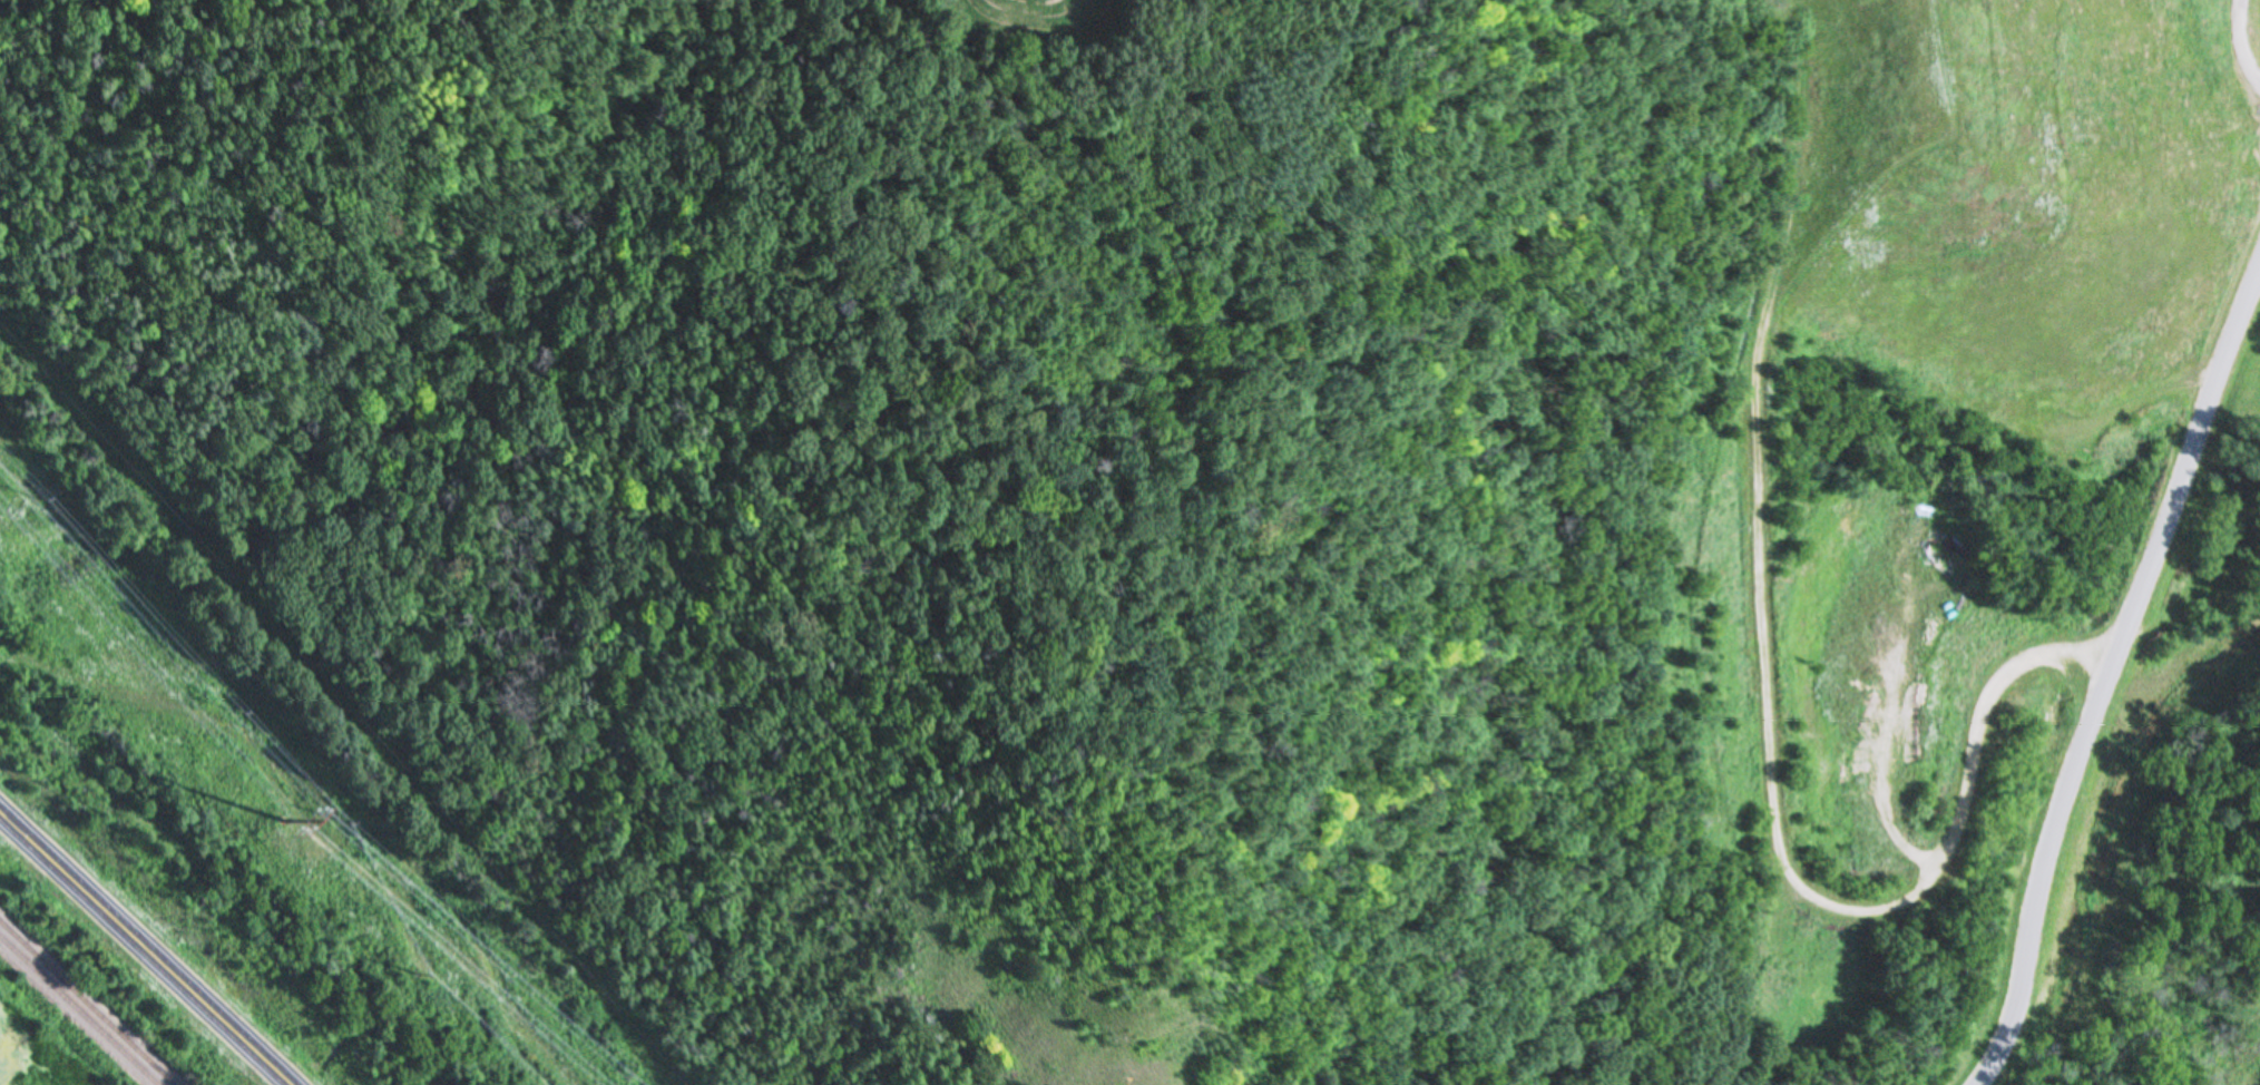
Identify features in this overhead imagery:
road: (2238, 79)
power tower: (41, 499)
road: (1982, 708)
power tower: (237, 714)
power tower: (282, 823)
power tower: (348, 824)
road: (145, 949)
power tower: (415, 974)
railway: (88, 1001)
railway: (79, 1010)

